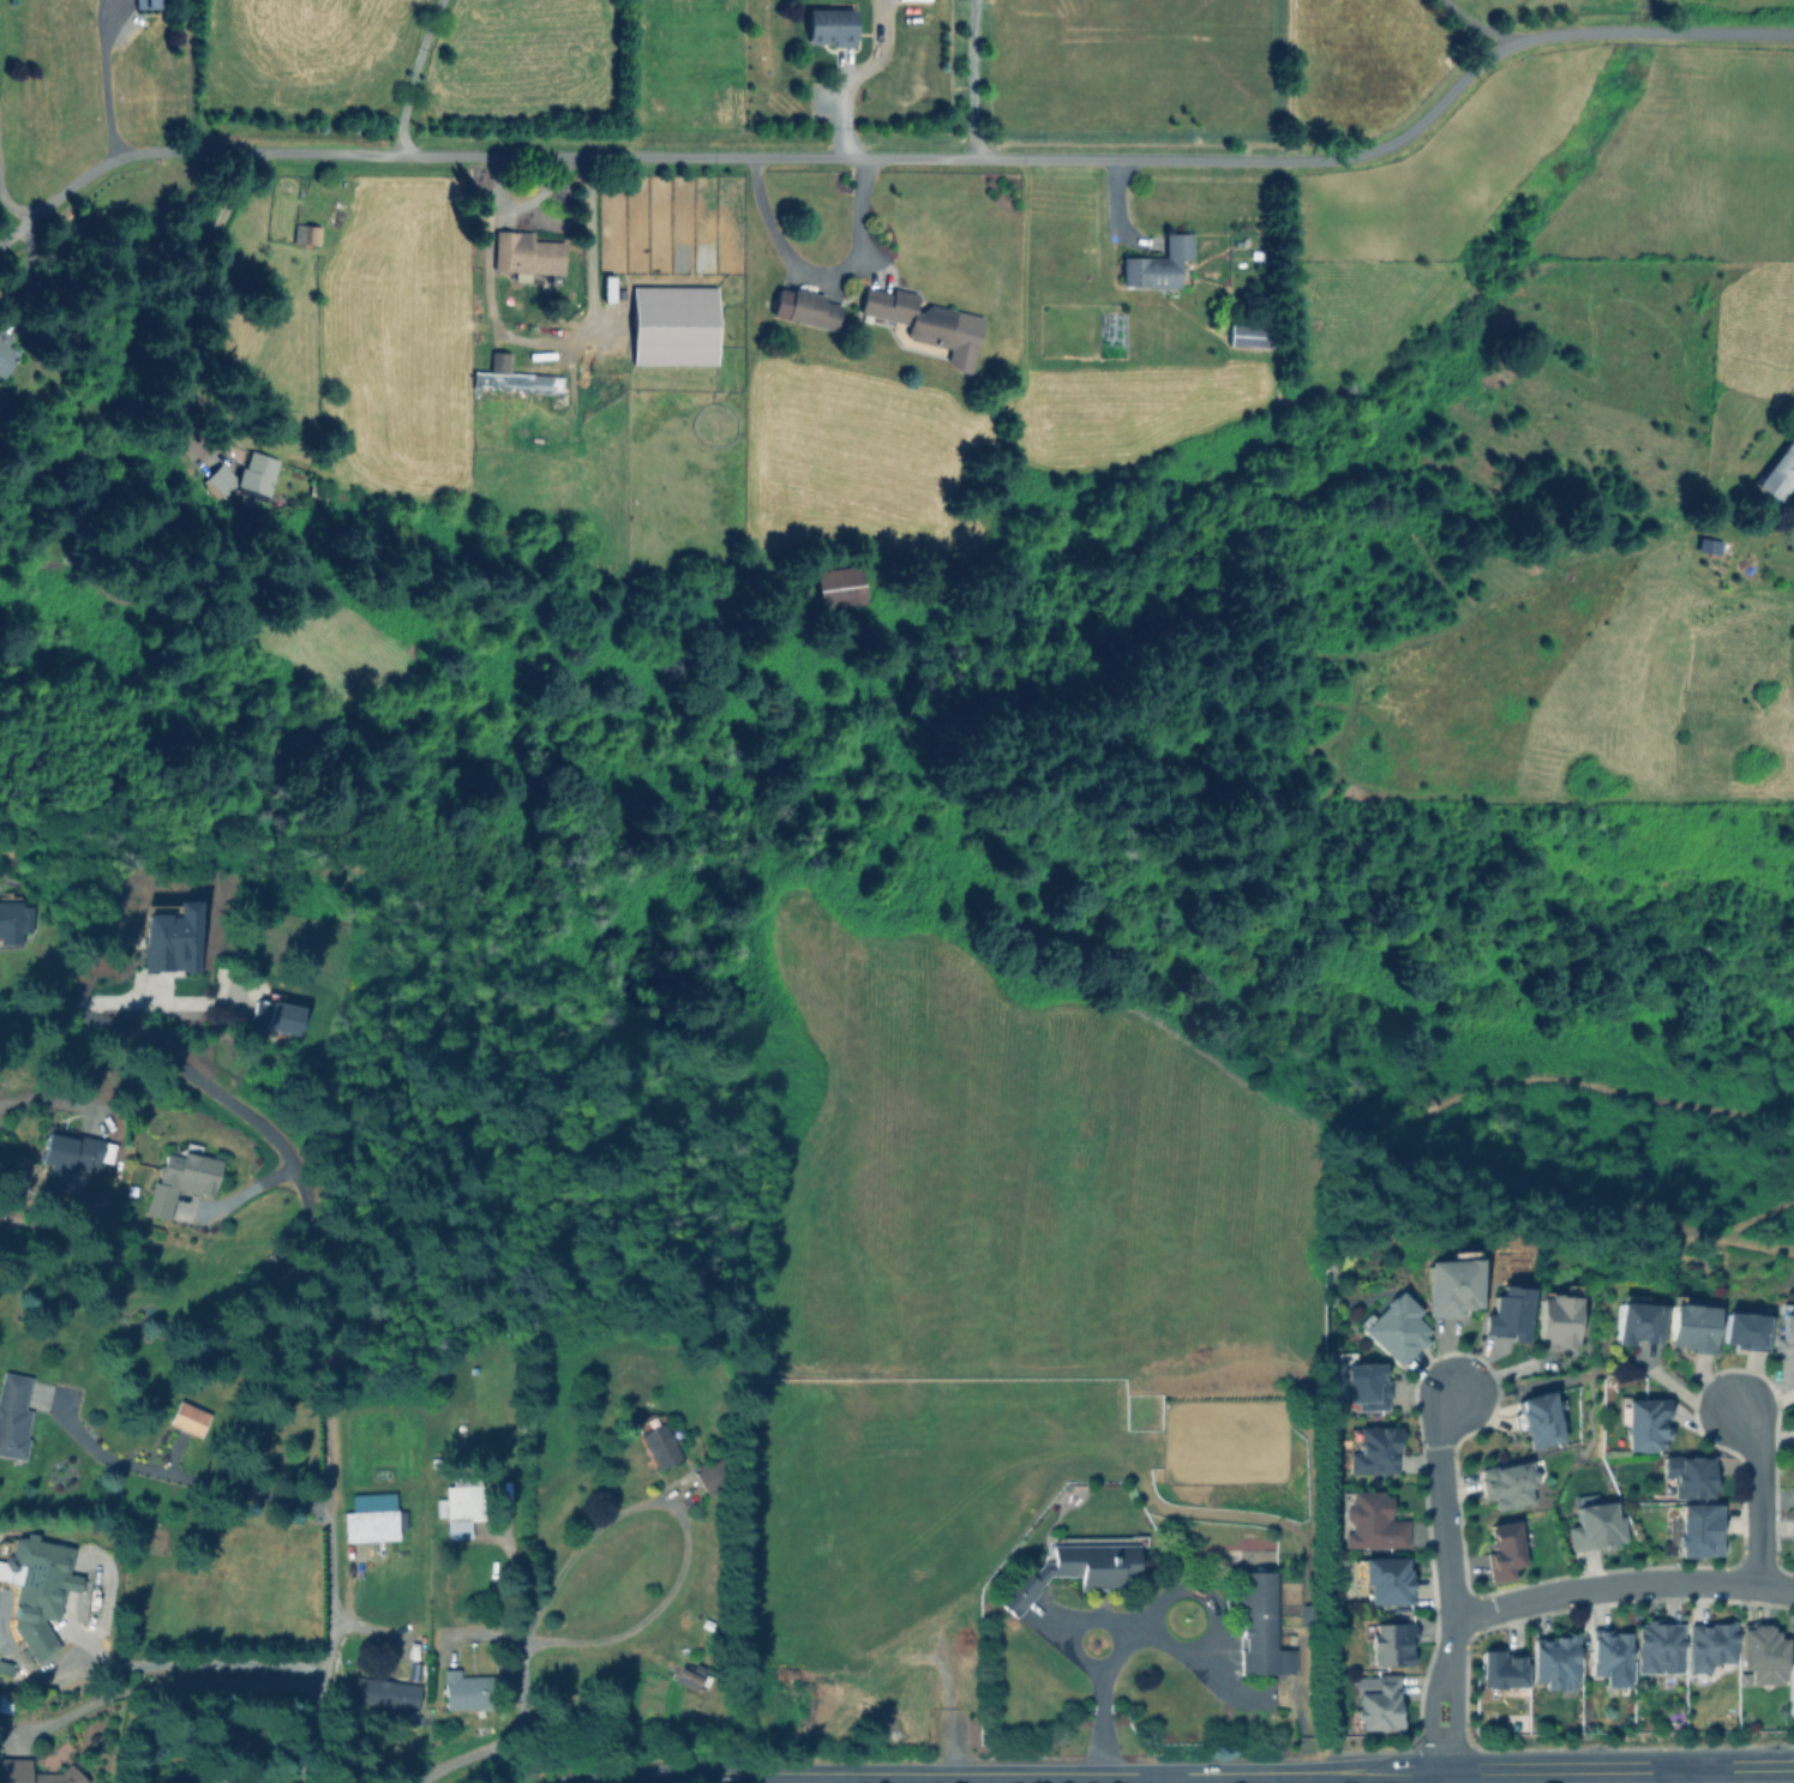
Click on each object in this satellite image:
building: (145, 4)
road: (1476, 23)
building: (829, 26)
road: (410, 74)
road: (971, 79)
road: (103, 80)
road: (902, 157)
road: (12, 209)
building: (305, 234)
building: (526, 253)
building: (1157, 264)
road: (817, 270)
building: (607, 288)
building: (804, 308)
building: (926, 323)
building: (672, 324)
building: (1248, 335)
road: (552, 353)
building: (5, 354)
building: (512, 377)
building: (1778, 473)
building: (244, 475)
building: (839, 586)
building: (12, 923)
building: (170, 938)
building: (276, 1015)
road: (1, 1019)
building: (180, 1179)
building: (1448, 1286)
road: (326, 1299)
building: (1507, 1314)
building: (1556, 1322)
building: (1637, 1323)
building: (1690, 1327)
building: (1394, 1328)
building: (1742, 1331)
building: (1783, 1337)
building: (1366, 1385)
building: (13, 1415)
building: (187, 1418)
building: (1538, 1419)
building: (1644, 1424)
building: (659, 1446)
building: (1374, 1451)
road: (184, 1475)
building: (709, 1476)
building: (1688, 1476)
building: (1507, 1484)
road: (1756, 1493)
building: (458, 1506)
building: (368, 1518)
building: (1372, 1521)
road: (684, 1525)
building: (1595, 1526)
building: (1697, 1530)
building: (1502, 1550)
building: (1074, 1569)
building: (1386, 1579)
road: (1447, 1580)
road: (1621, 1586)
building: (35, 1589)
road: (1157, 1608)
building: (1260, 1626)
building: (1709, 1644)
building: (1793, 1646)
building: (1657, 1647)
building: (1762, 1655)
building: (1609, 1656)
building: (1553, 1661)
road: (196, 1662)
building: (1499, 1669)
building: (688, 1674)
road: (163, 1683)
building: (464, 1691)
building: (385, 1693)
building: (4, 1701)
building: (1378, 1705)
road: (509, 1734)
road: (1561, 1767)
road: (950, 1771)
building: (35, 1773)
road: (1685, 1775)
road: (1158, 1777)
building: (253, 1779)
building: (215, 1782)

